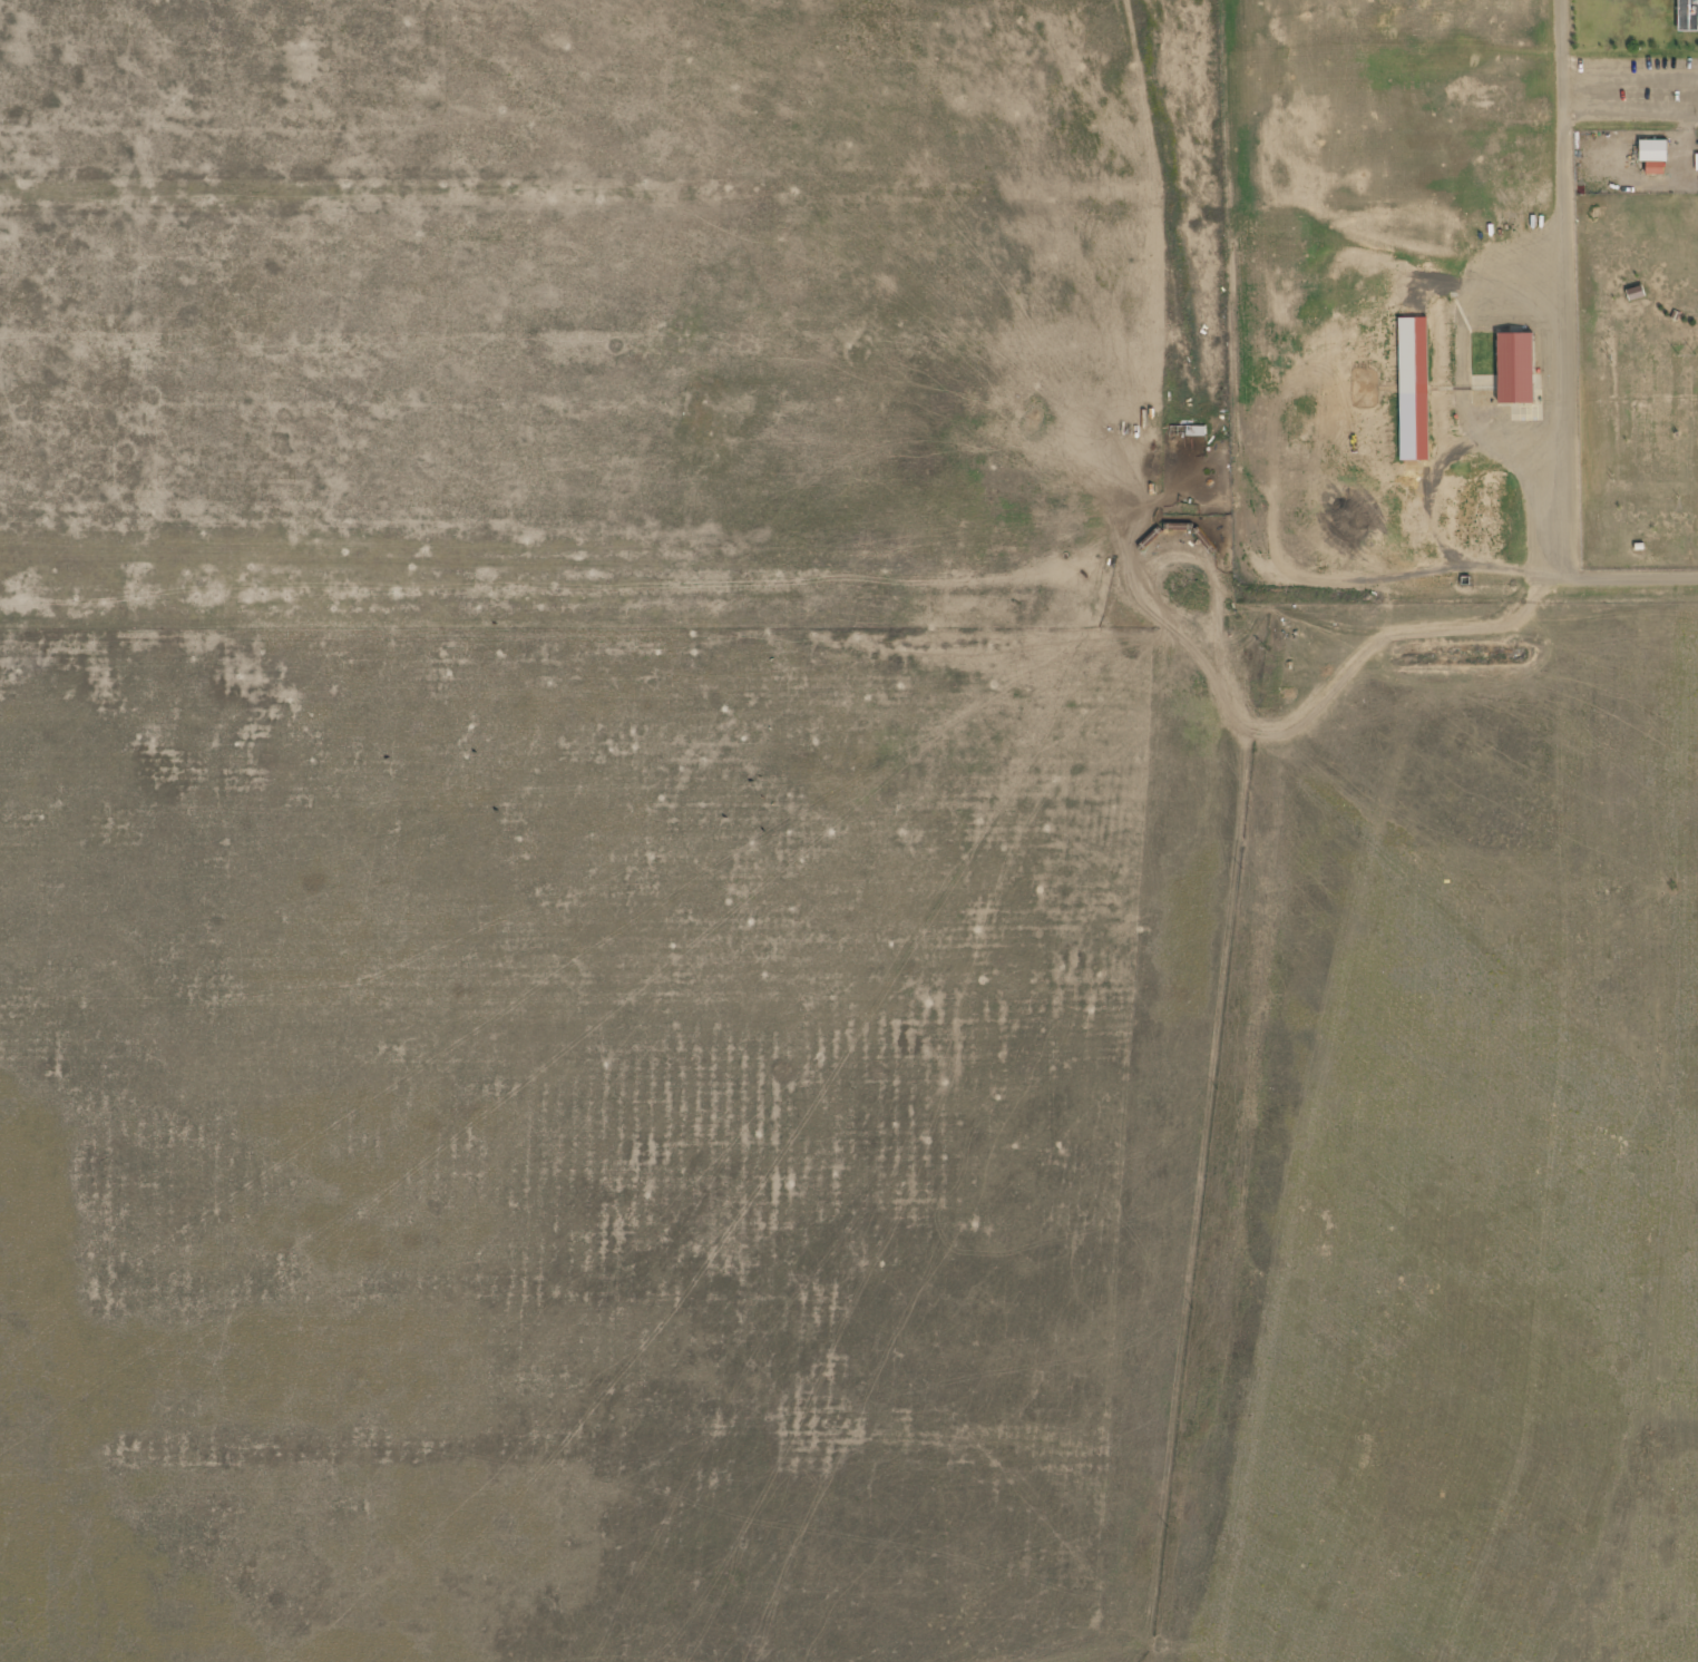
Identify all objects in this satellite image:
building: (1688, 16)
road: (1630, 80)
road: (1630, 115)
building: (1655, 153)
building: (1697, 166)
road: (1563, 285)
building: (1413, 352)
building: (1515, 369)
building: (1412, 427)
road: (1622, 578)

